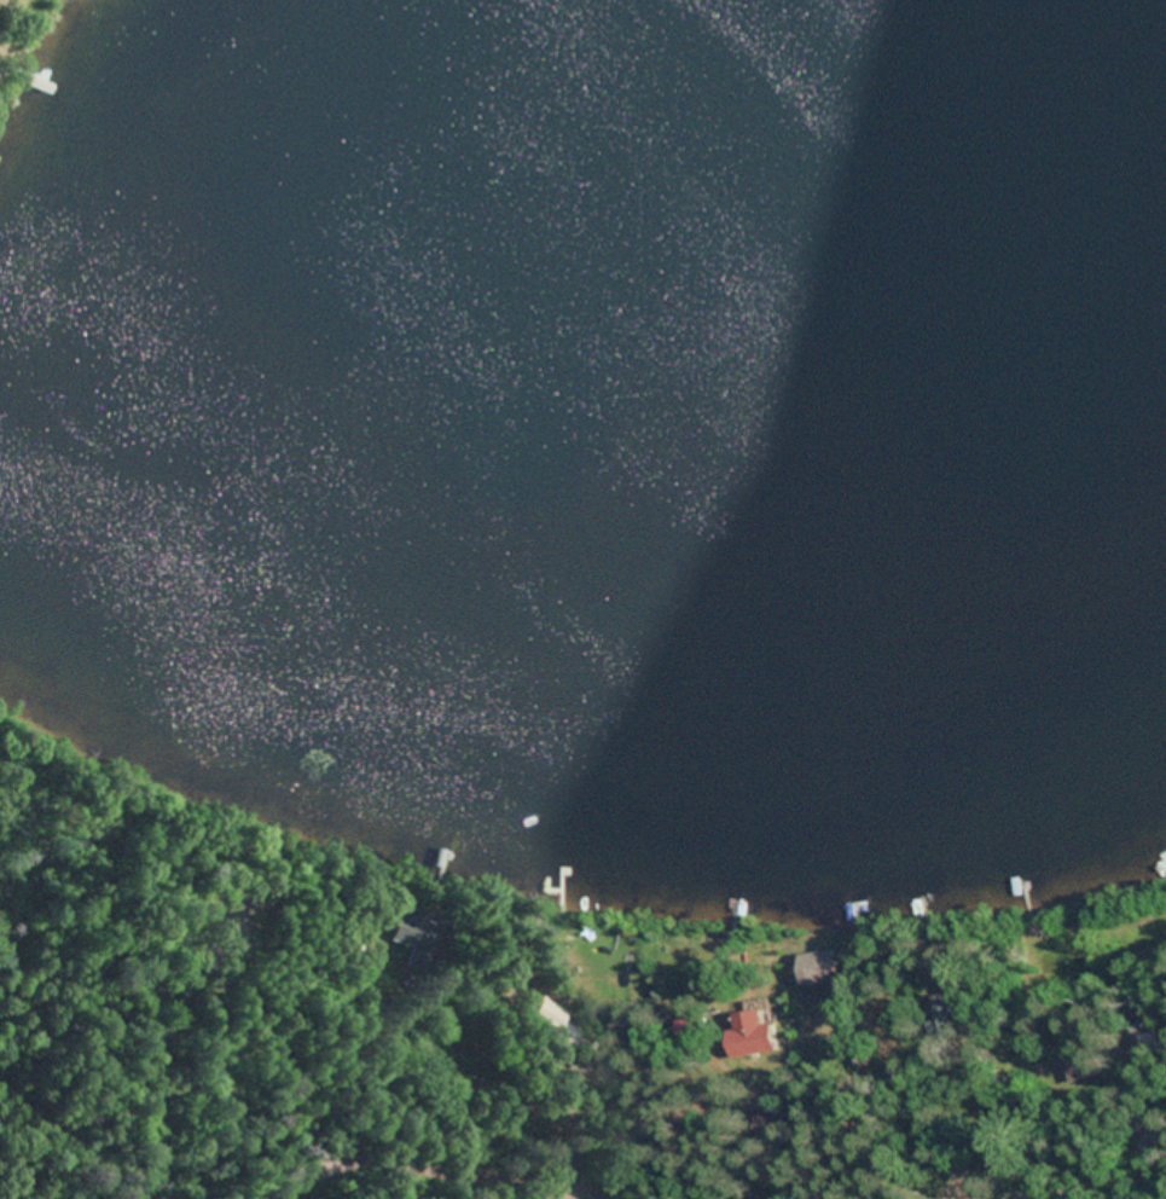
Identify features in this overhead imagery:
building: (414, 938)
building: (816, 968)
building: (950, 1018)
building: (1148, 1048)
road: (703, 1137)

